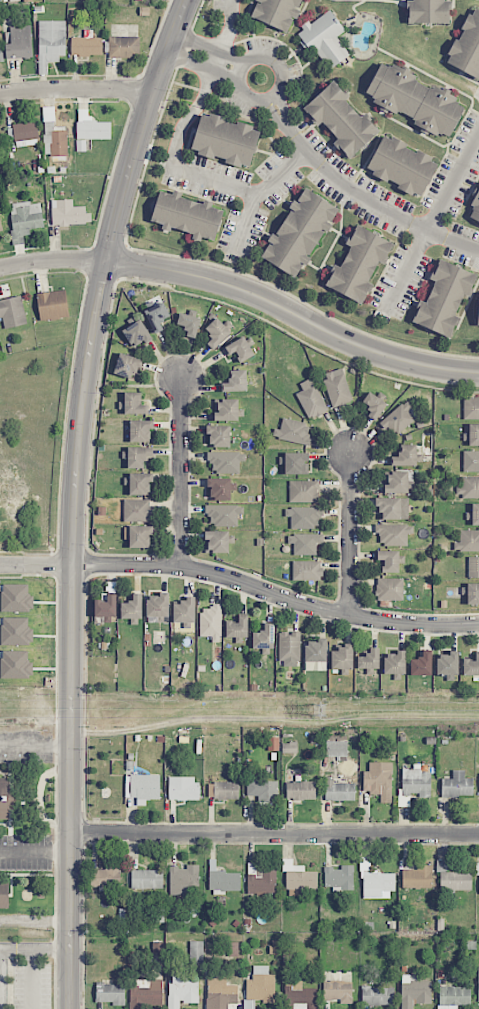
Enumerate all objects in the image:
building: (428, 11)
road: (232, 12)
building: (276, 12)
building: (325, 38)
building: (51, 41)
building: (19, 42)
building: (86, 45)
building: (467, 45)
building: (124, 47)
building: (1, 53)
road: (207, 55)
road: (215, 65)
road: (241, 70)
road: (76, 86)
road: (277, 99)
building: (415, 99)
building: (342, 119)
building: (90, 129)
building: (22, 131)
building: (53, 135)
building: (225, 139)
building: (402, 165)
road: (214, 181)
road: (364, 196)
building: (474, 208)
building: (68, 213)
building: (187, 214)
building: (25, 217)
road: (430, 222)
road: (246, 223)
building: (1, 227)
building: (299, 232)
building: (359, 264)
road: (245, 290)
building: (443, 298)
building: (52, 305)
building: (12, 312)
building: (157, 316)
building: (478, 316)
building: (189, 324)
building: (216, 332)
building: (136, 333)
building: (239, 349)
building: (127, 365)
building: (236, 381)
building: (337, 387)
building: (311, 399)
building: (134, 403)
building: (374, 405)
building: (471, 407)
building: (227, 410)
building: (399, 418)
building: (140, 430)
building: (292, 431)
building: (473, 434)
building: (219, 435)
building: (138, 456)
building: (405, 456)
building: (225, 461)
building: (471, 461)
building: (296, 463)
road: (181, 474)
building: (397, 482)
building: (140, 483)
building: (468, 487)
building: (219, 488)
building: (303, 491)
road: (75, 496)
building: (393, 508)
building: (136, 509)
building: (223, 514)
building: (475, 514)
building: (304, 517)
building: (393, 533)
road: (350, 534)
building: (140, 536)
building: (468, 541)
building: (218, 542)
building: (305, 543)
building: (389, 560)
building: (473, 567)
building: (307, 570)
road: (241, 583)
building: (389, 589)
building: (473, 593)
building: (16, 598)
building: (158, 605)
building: (106, 608)
building: (132, 609)
building: (184, 612)
building: (211, 622)
building: (237, 627)
building: (16, 631)
building: (264, 639)
building: (289, 646)
building: (315, 654)
building: (342, 657)
building: (369, 660)
building: (394, 662)
building: (447, 662)
building: (15, 664)
building: (421, 664)
building: (471, 666)
power tower: (320, 709)
road: (36, 743)
building: (289, 747)
building: (336, 748)
building: (378, 780)
building: (416, 782)
building: (457, 785)
building: (142, 787)
building: (183, 788)
building: (262, 789)
building: (226, 790)
building: (300, 790)
building: (338, 790)
building: (6, 796)
road: (275, 832)
road: (36, 853)
building: (478, 876)
building: (106, 877)
building: (298, 877)
building: (417, 877)
building: (338, 878)
building: (453, 878)
building: (146, 879)
building: (183, 879)
building: (222, 879)
building: (261, 880)
building: (378, 884)
building: (4, 895)
road: (35, 920)
road: (33, 948)
building: (196, 952)
road: (31, 979)
building: (478, 981)
building: (260, 985)
building: (181, 990)
building: (338, 991)
building: (414, 991)
building: (111, 993)
building: (146, 993)
building: (220, 993)
building: (299, 995)
building: (377, 995)
building: (453, 997)

